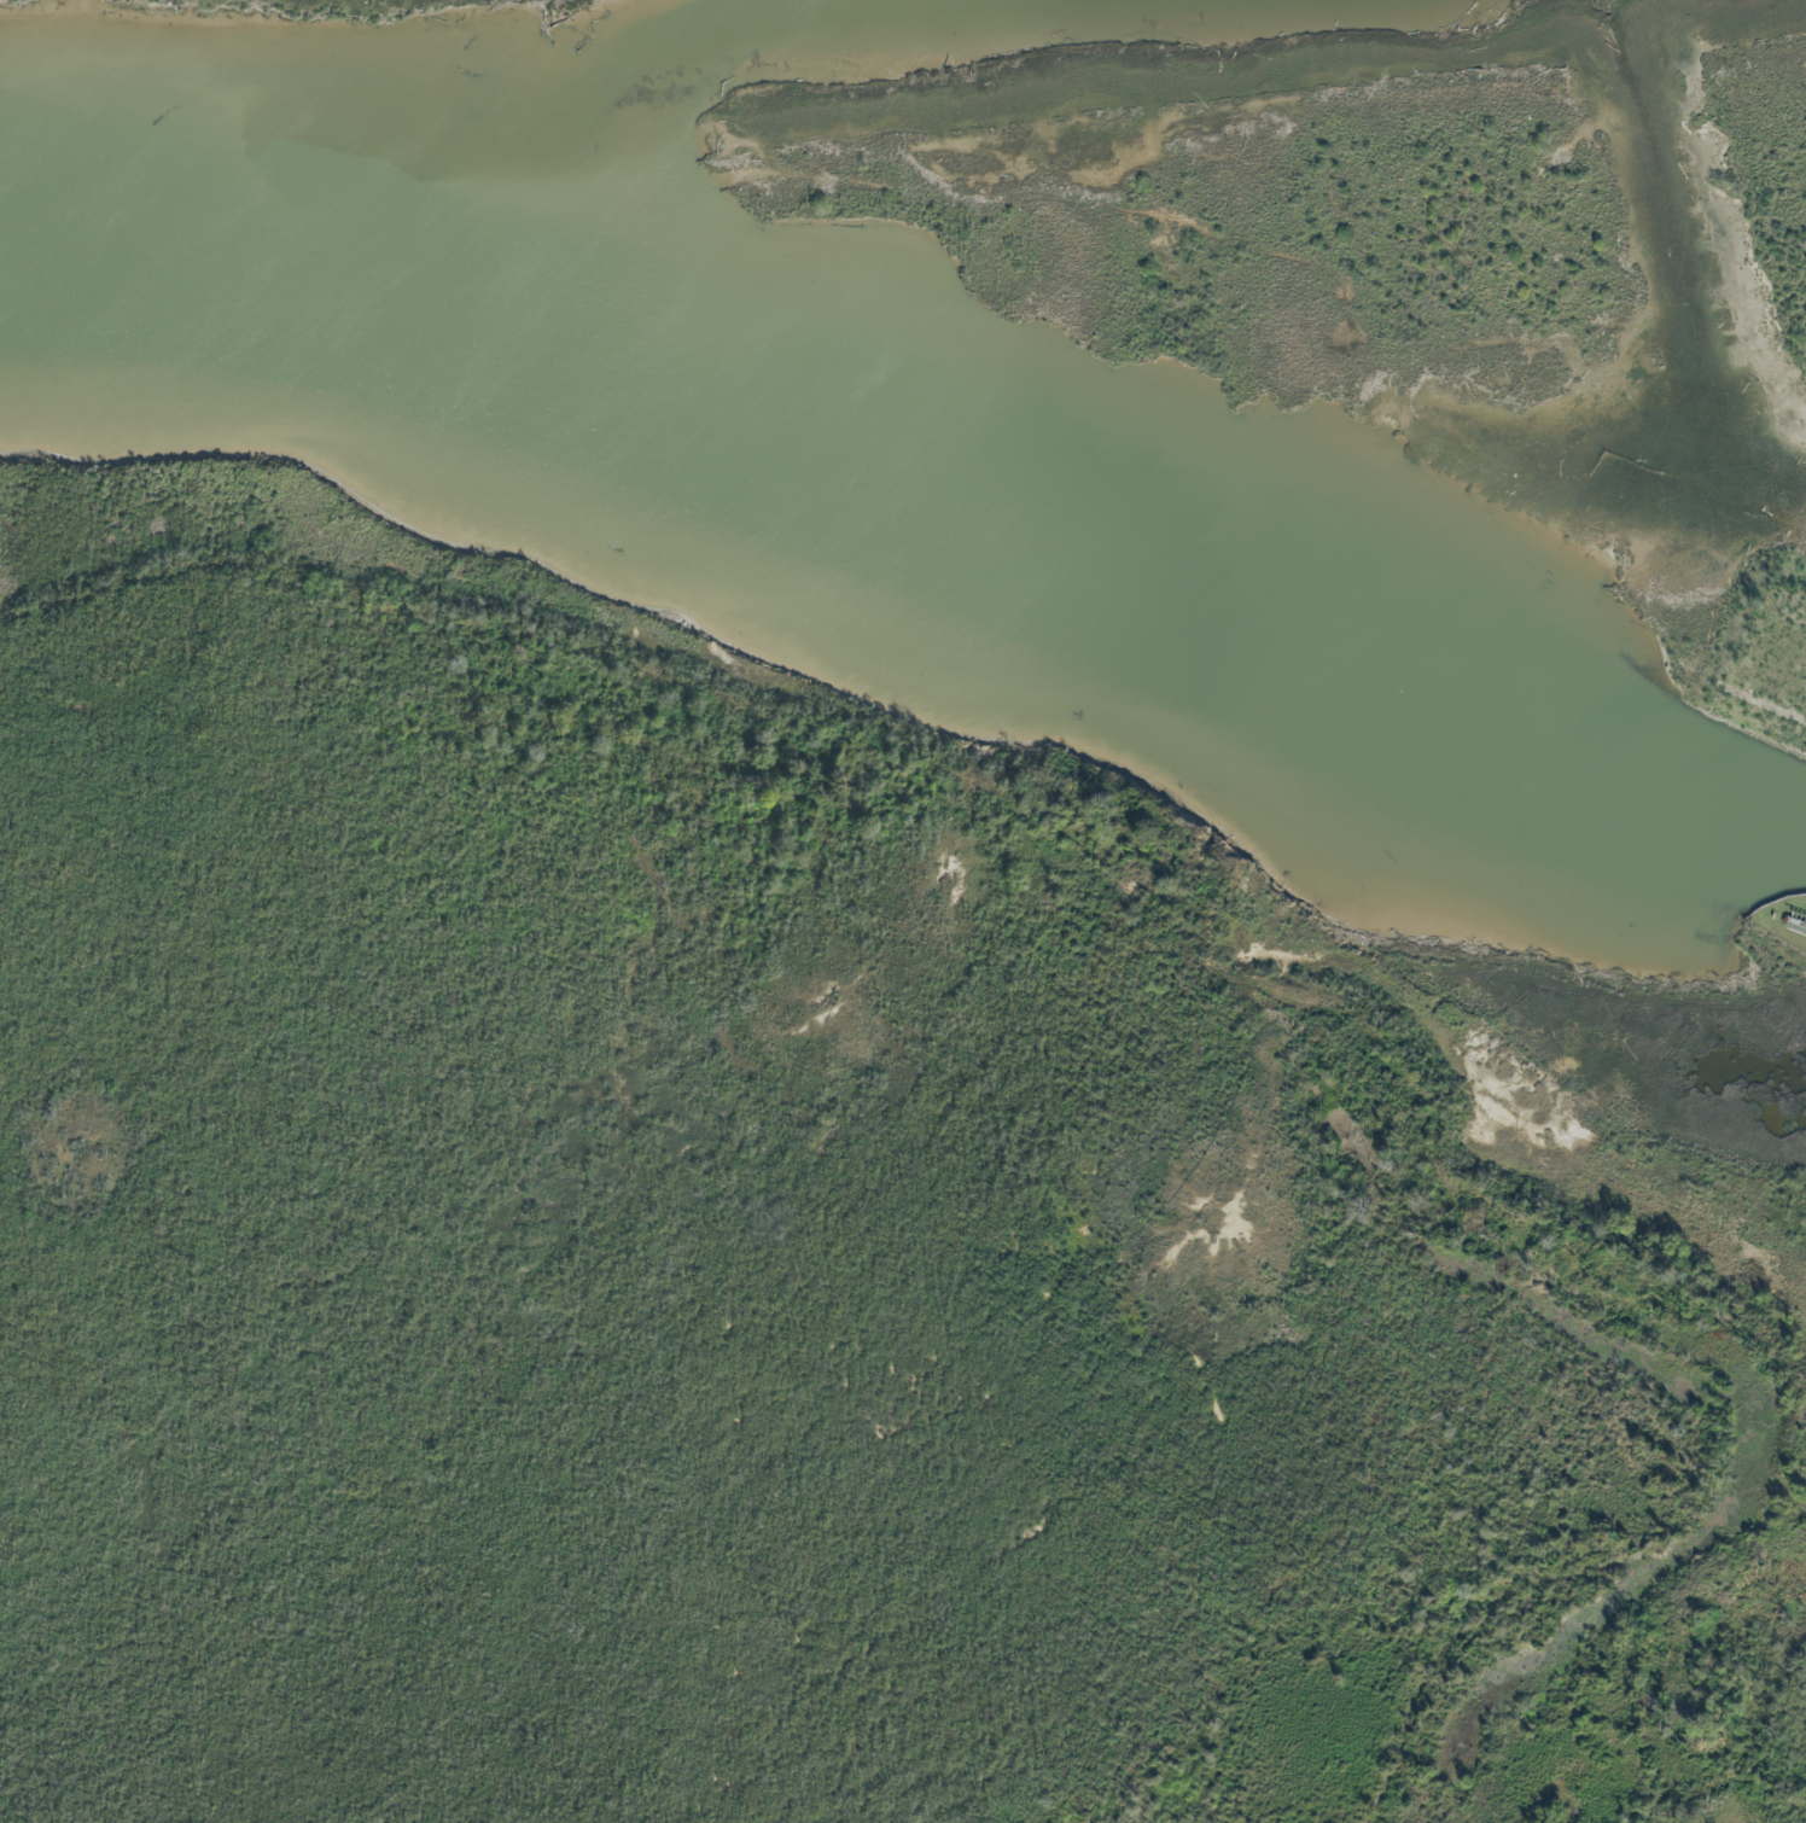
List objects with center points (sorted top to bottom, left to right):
road: (1766, 711)
building: (1565, 726)

